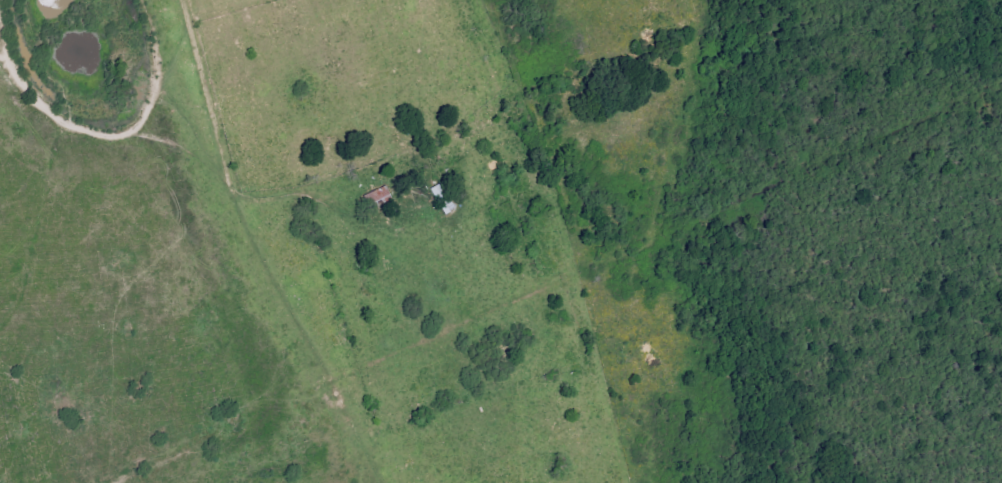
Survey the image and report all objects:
building: (378, 195)

